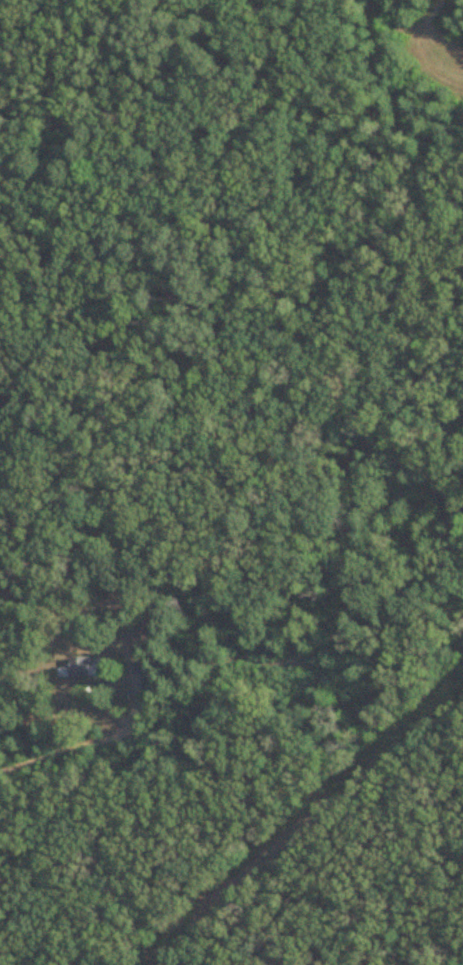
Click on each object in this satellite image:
building: (143, 642)
road: (3, 664)
building: (83, 668)
road: (94, 740)

